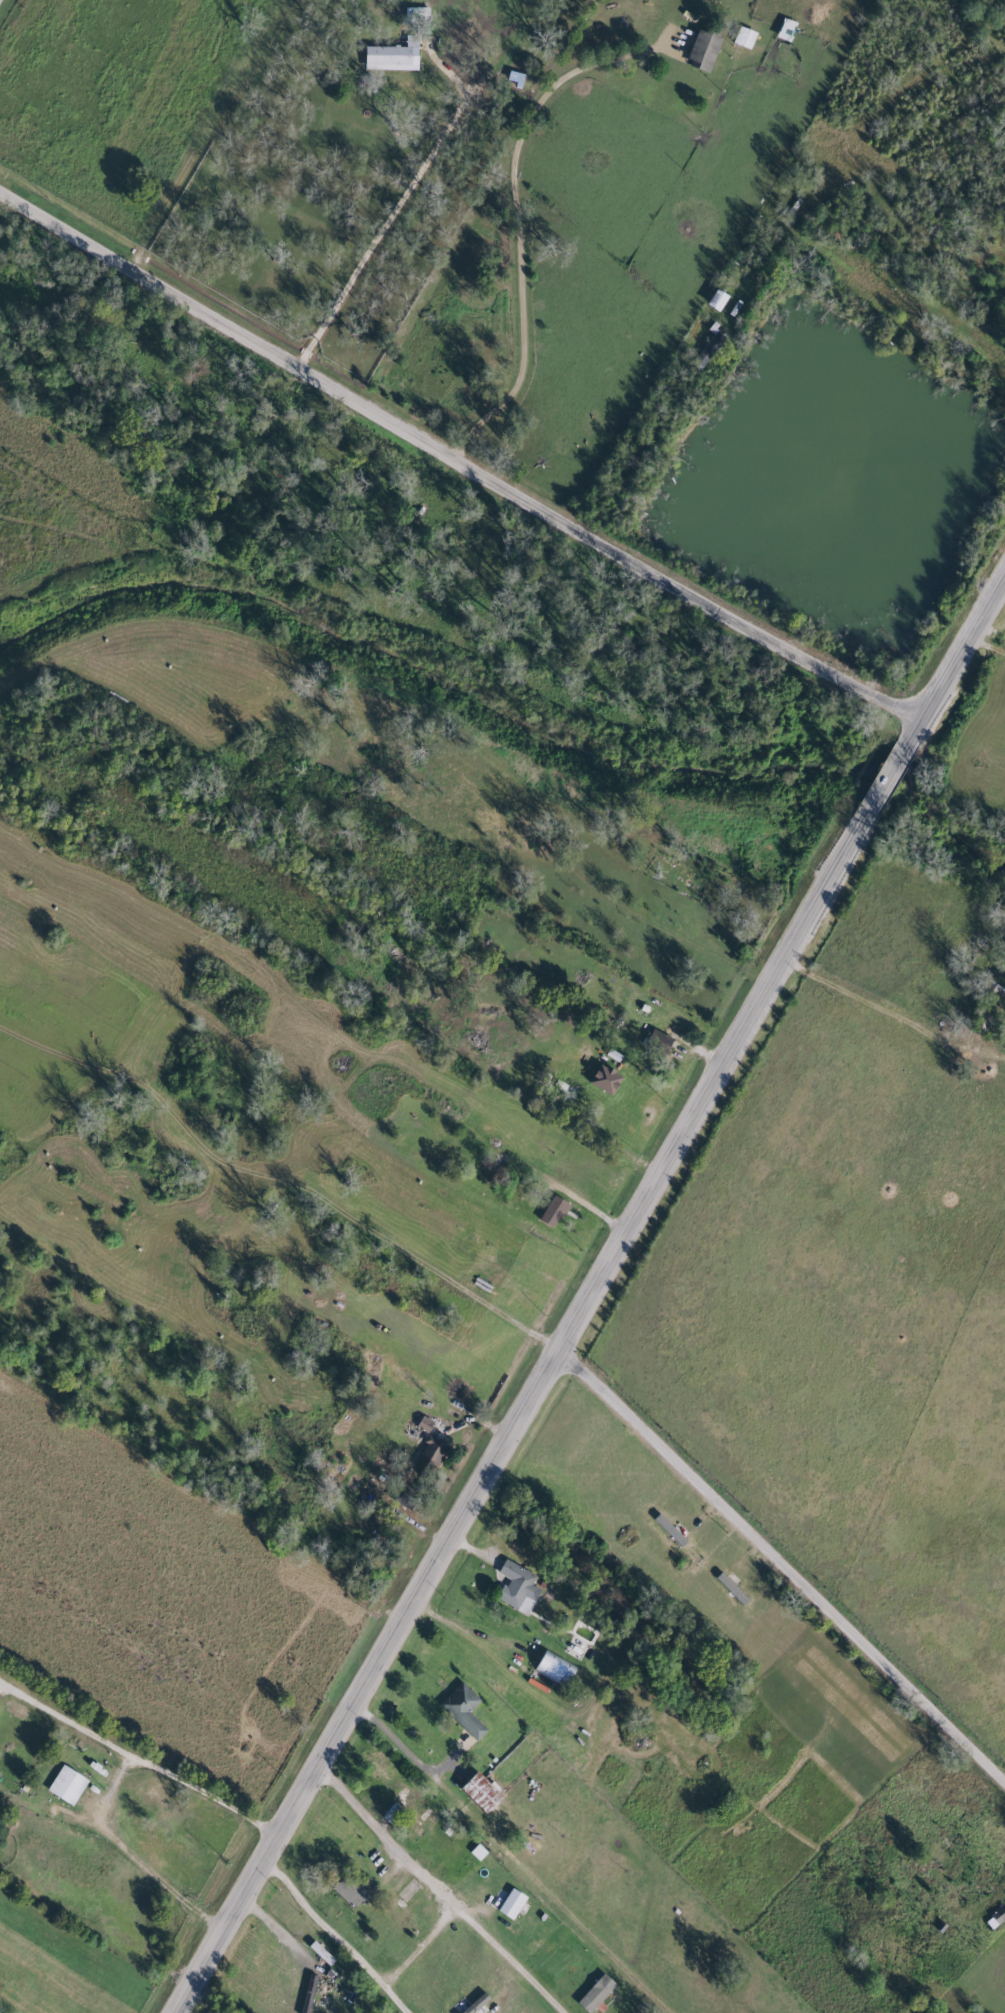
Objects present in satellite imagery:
road: (2, 4)
building: (698, 49)
building: (396, 55)
road: (859, 99)
road: (421, 178)
road: (514, 216)
building: (710, 299)
building: (704, 348)
road: (461, 450)
road: (870, 1000)
road: (710, 1052)
building: (608, 1078)
road: (592, 1143)
road: (595, 1207)
building: (555, 1210)
road: (258, 1280)
road: (597, 1295)
building: (425, 1424)
road: (651, 1425)
building: (434, 1451)
road: (204, 1497)
road: (503, 1561)
building: (518, 1587)
road: (473, 1636)
building: (557, 1669)
building: (465, 1709)
road: (69, 1722)
road: (418, 1754)
building: (68, 1785)
road: (111, 1792)
building: (484, 1792)
building: (478, 1852)
building: (351, 1891)
road: (443, 1891)
building: (513, 1904)
road: (983, 1911)
building: (993, 1916)
road: (276, 1919)
road: (409, 1934)
road: (340, 1935)
road: (426, 1946)
road: (313, 1970)
road: (490, 1986)
building: (598, 1993)
building: (311, 1995)
building: (478, 2003)
road: (484, 2006)

